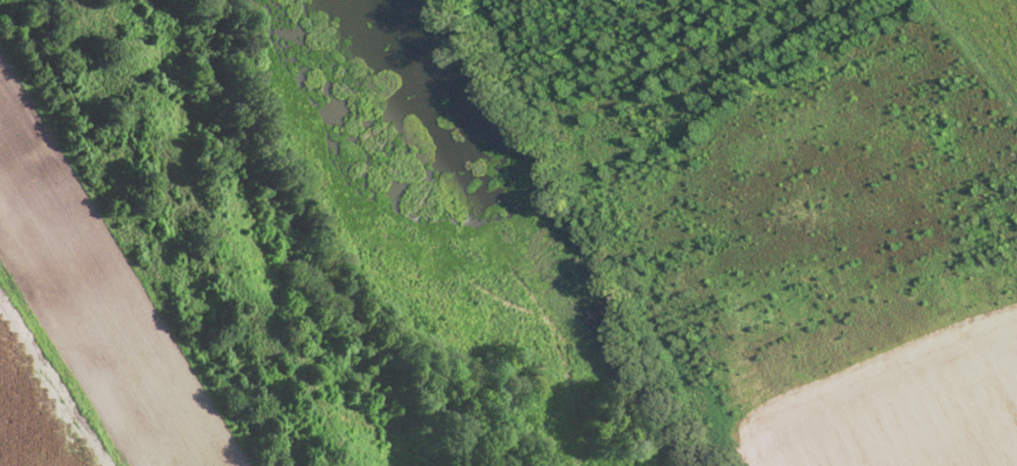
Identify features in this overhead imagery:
road: (127, 257)

